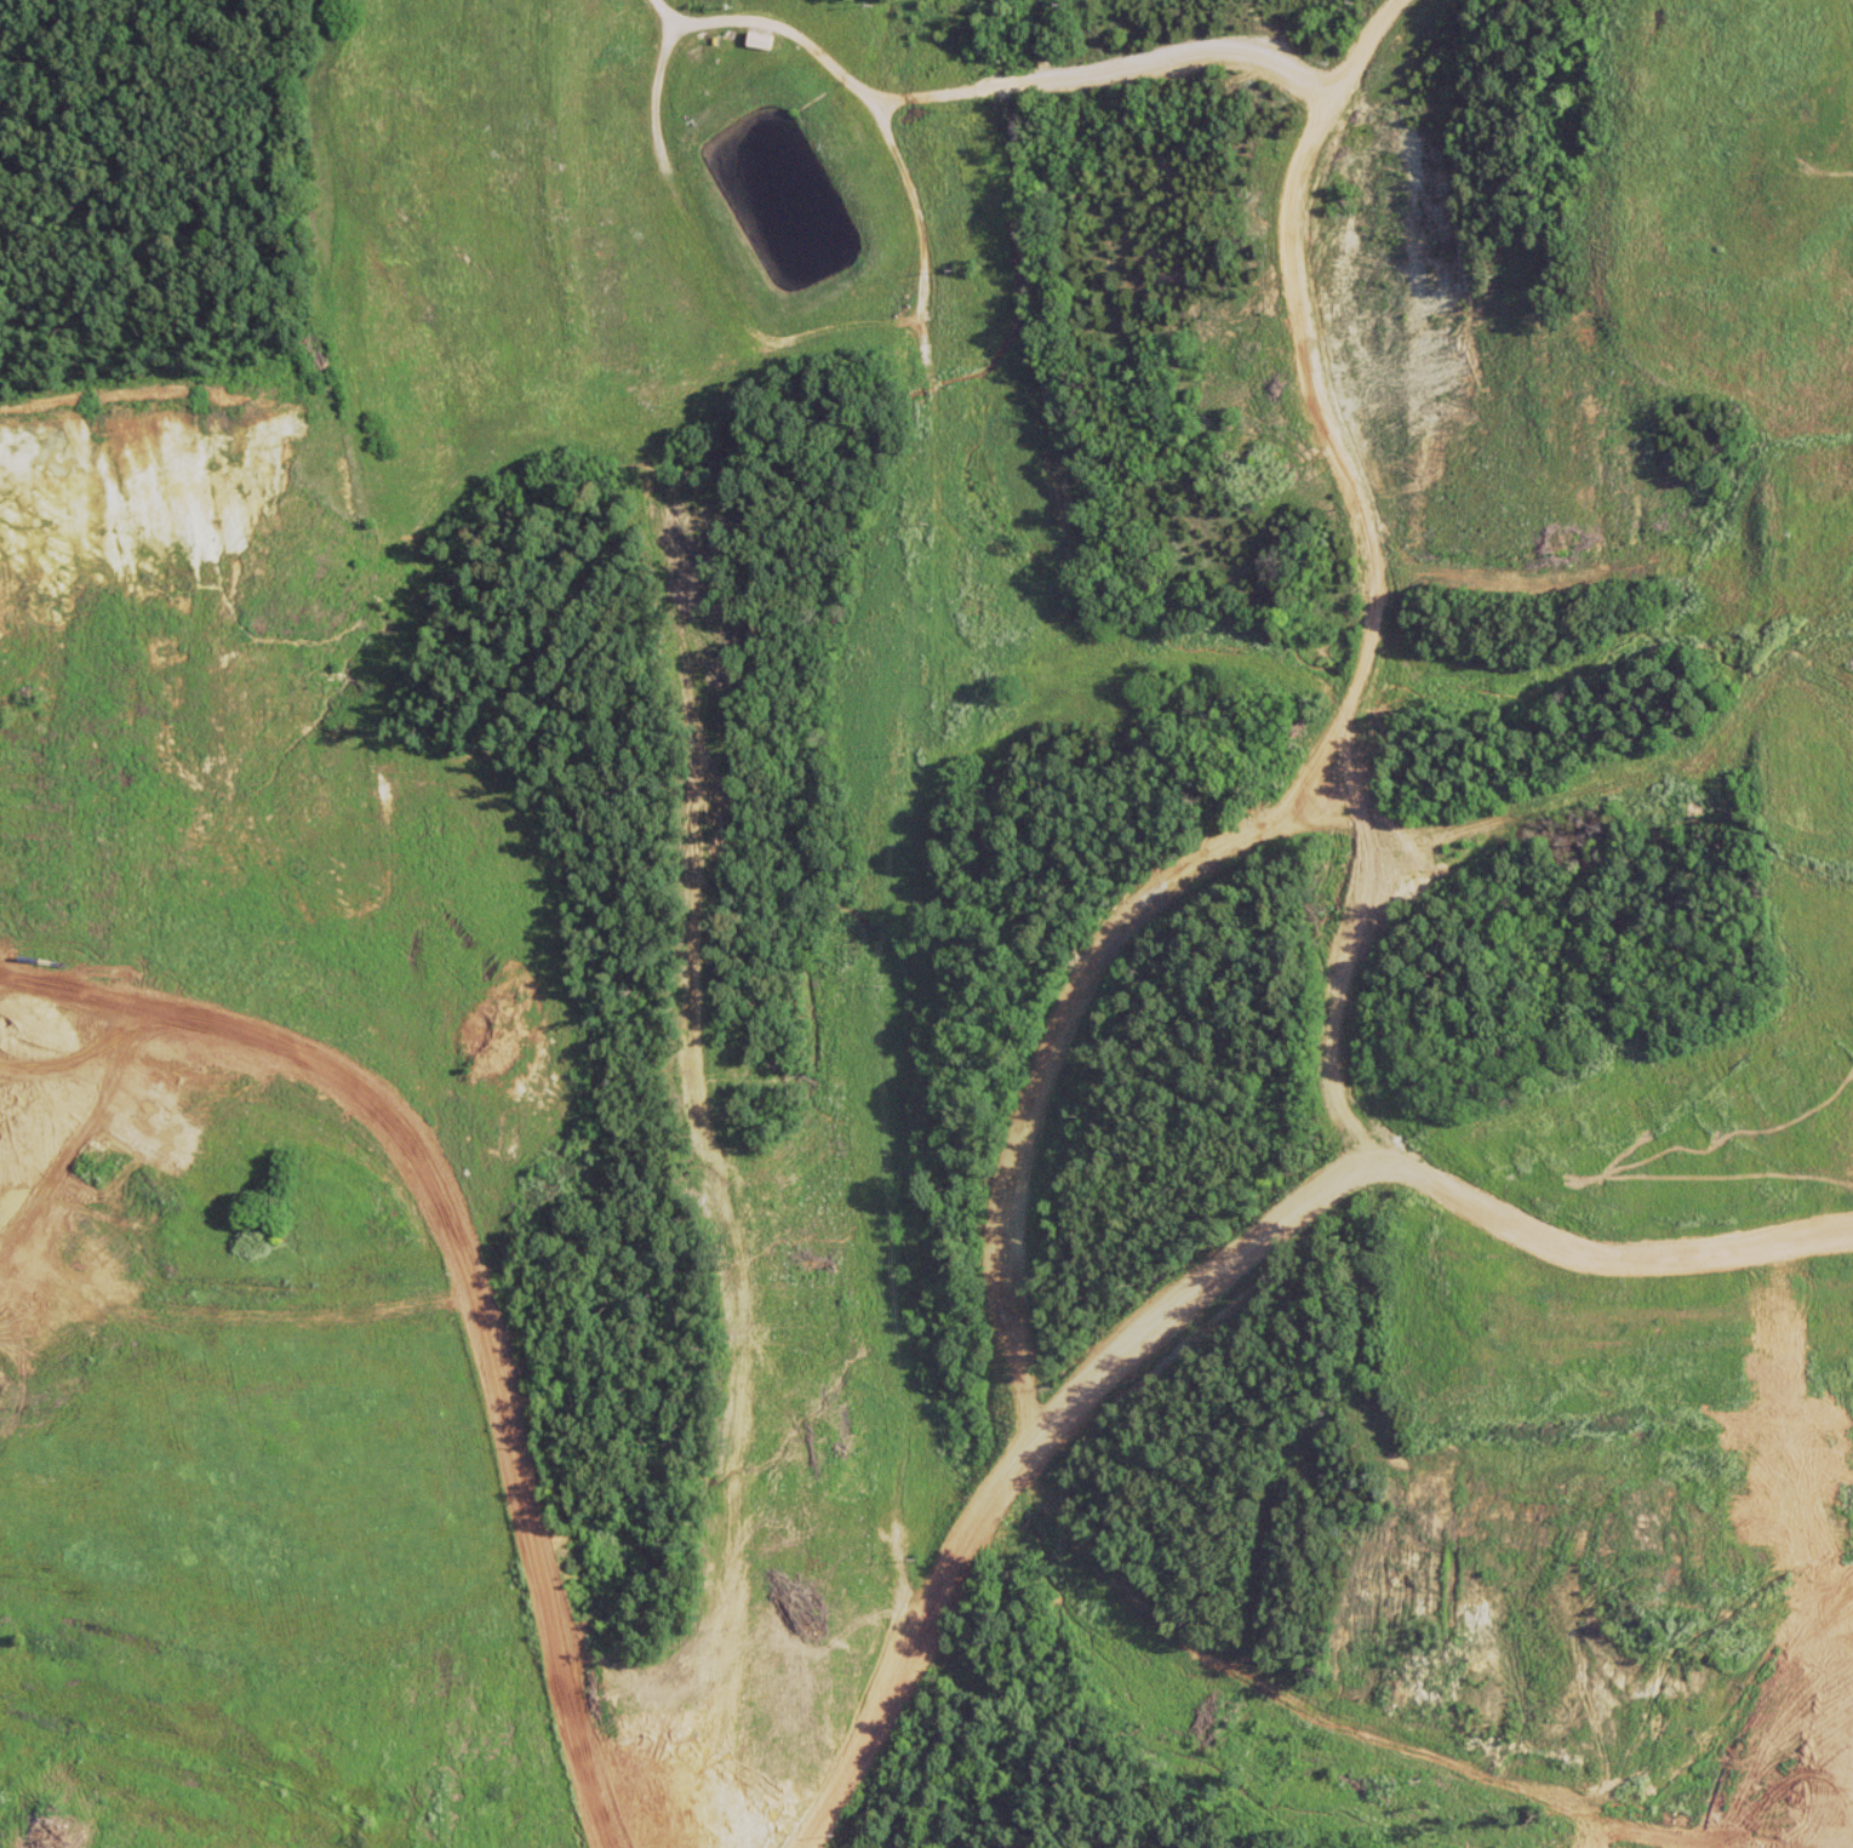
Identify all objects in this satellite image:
road: (1634, 1098)

